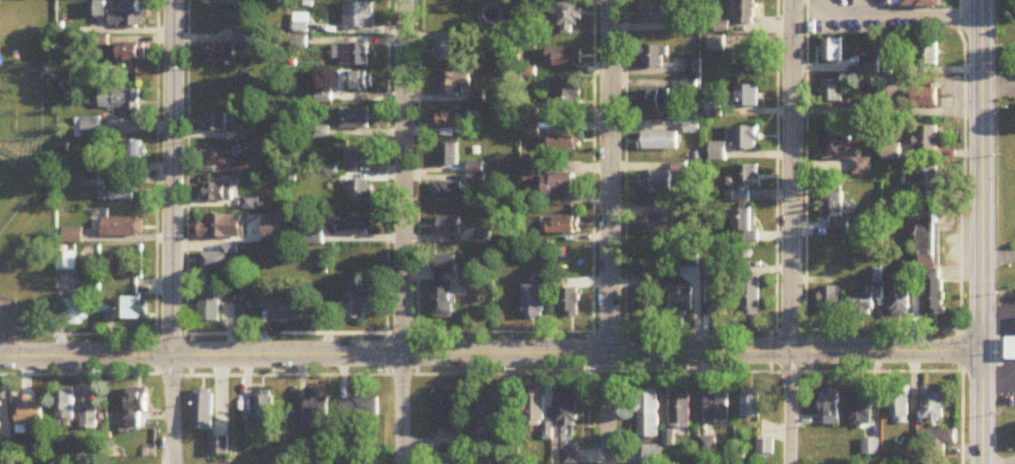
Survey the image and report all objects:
building: (924, 3)
building: (745, 12)
road: (893, 13)
building: (653, 14)
building: (359, 16)
building: (128, 17)
building: (569, 19)
building: (245, 36)
building: (832, 49)
building: (456, 51)
building: (132, 53)
building: (928, 54)
building: (215, 55)
building: (353, 55)
building: (564, 57)
building: (652, 57)
building: (745, 59)
building: (870, 64)
building: (693, 67)
building: (356, 81)
building: (455, 83)
road: (998, 87)
building: (832, 90)
building: (746, 96)
building: (925, 96)
building: (569, 99)
building: (656, 99)
building: (120, 100)
building: (856, 107)
building: (354, 119)
building: (453, 120)
building: (214, 123)
building: (88, 128)
road: (960, 137)
building: (743, 138)
building: (927, 138)
building: (565, 141)
building: (659, 141)
building: (836, 144)
building: (132, 151)
building: (219, 154)
building: (717, 154)
building: (448, 155)
building: (360, 157)
park: (25, 167)
building: (531, 173)
building: (930, 176)
building: (92, 183)
road: (589, 183)
road: (621, 183)
building: (655, 183)
building: (745, 183)
road: (773, 183)
road: (802, 183)
road: (155, 184)
road: (184, 184)
road: (385, 184)
road: (414, 184)
building: (562, 186)
building: (361, 192)
park: (12, 193)
building: (121, 193)
building: (219, 193)
building: (450, 194)
building: (835, 214)
building: (655, 225)
building: (745, 225)
building: (354, 226)
building: (449, 226)
building: (565, 226)
building: (127, 228)
building: (219, 228)
road: (168, 232)
road: (403, 232)
road: (606, 232)
road: (788, 232)
road: (981, 232)
building: (929, 236)
road: (998, 254)
building: (221, 260)
building: (934, 291)
building: (719, 293)
building: (900, 298)
building: (751, 299)
building: (534, 301)
building: (649, 301)
building: (682, 301)
building: (830, 301)
building: (864, 301)
building: (444, 303)
building: (570, 303)
building: (358, 304)
building: (285, 307)
building: (211, 308)
building: (128, 309)
building: (77, 312)
road: (998, 312)
parking lot: (9, 317)
road: (484, 326)
road: (7, 329)
road: (490, 346)
building: (1011, 348)
road: (480, 367)
road: (961, 368)
road: (998, 379)
building: (900, 403)
building: (137, 404)
building: (935, 404)
building: (67, 405)
building: (718, 405)
building: (752, 405)
building: (831, 406)
building: (863, 406)
building: (359, 407)
building: (535, 408)
building: (568, 408)
building: (203, 409)
building: (319, 409)
building: (494, 409)
building: (681, 410)
building: (447, 411)
building: (31, 412)
building: (262, 413)
building: (649, 413)
building: (89, 418)
building: (0, 435)
building: (942, 437)
building: (670, 439)
building: (220, 445)
building: (708, 445)
building: (765, 446)
building: (652, 455)
building: (570, 457)
road: (6, 458)
building: (457, 461)

